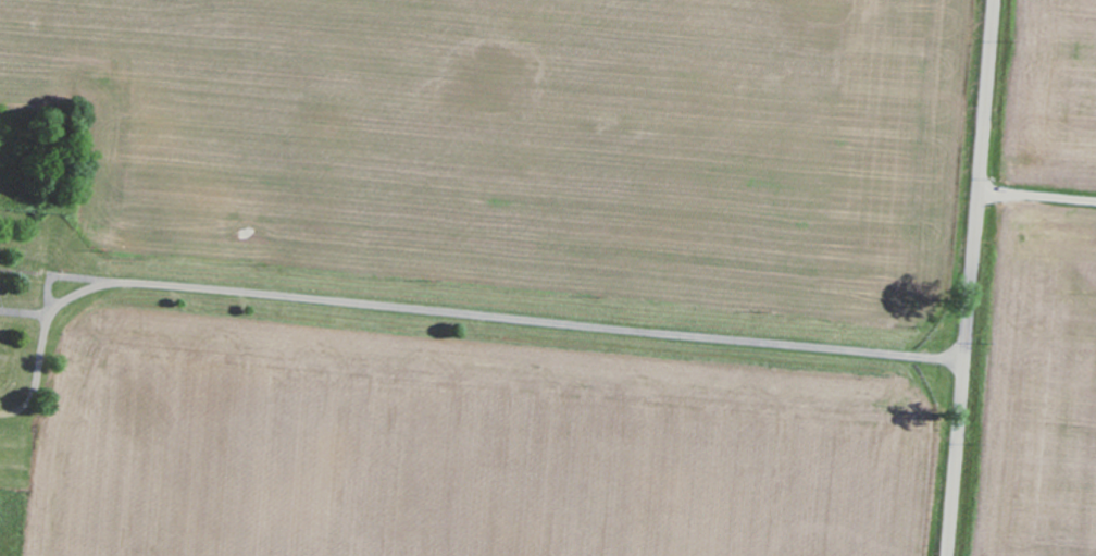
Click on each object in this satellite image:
road: (1037, 171)
road: (970, 277)
road: (440, 310)

